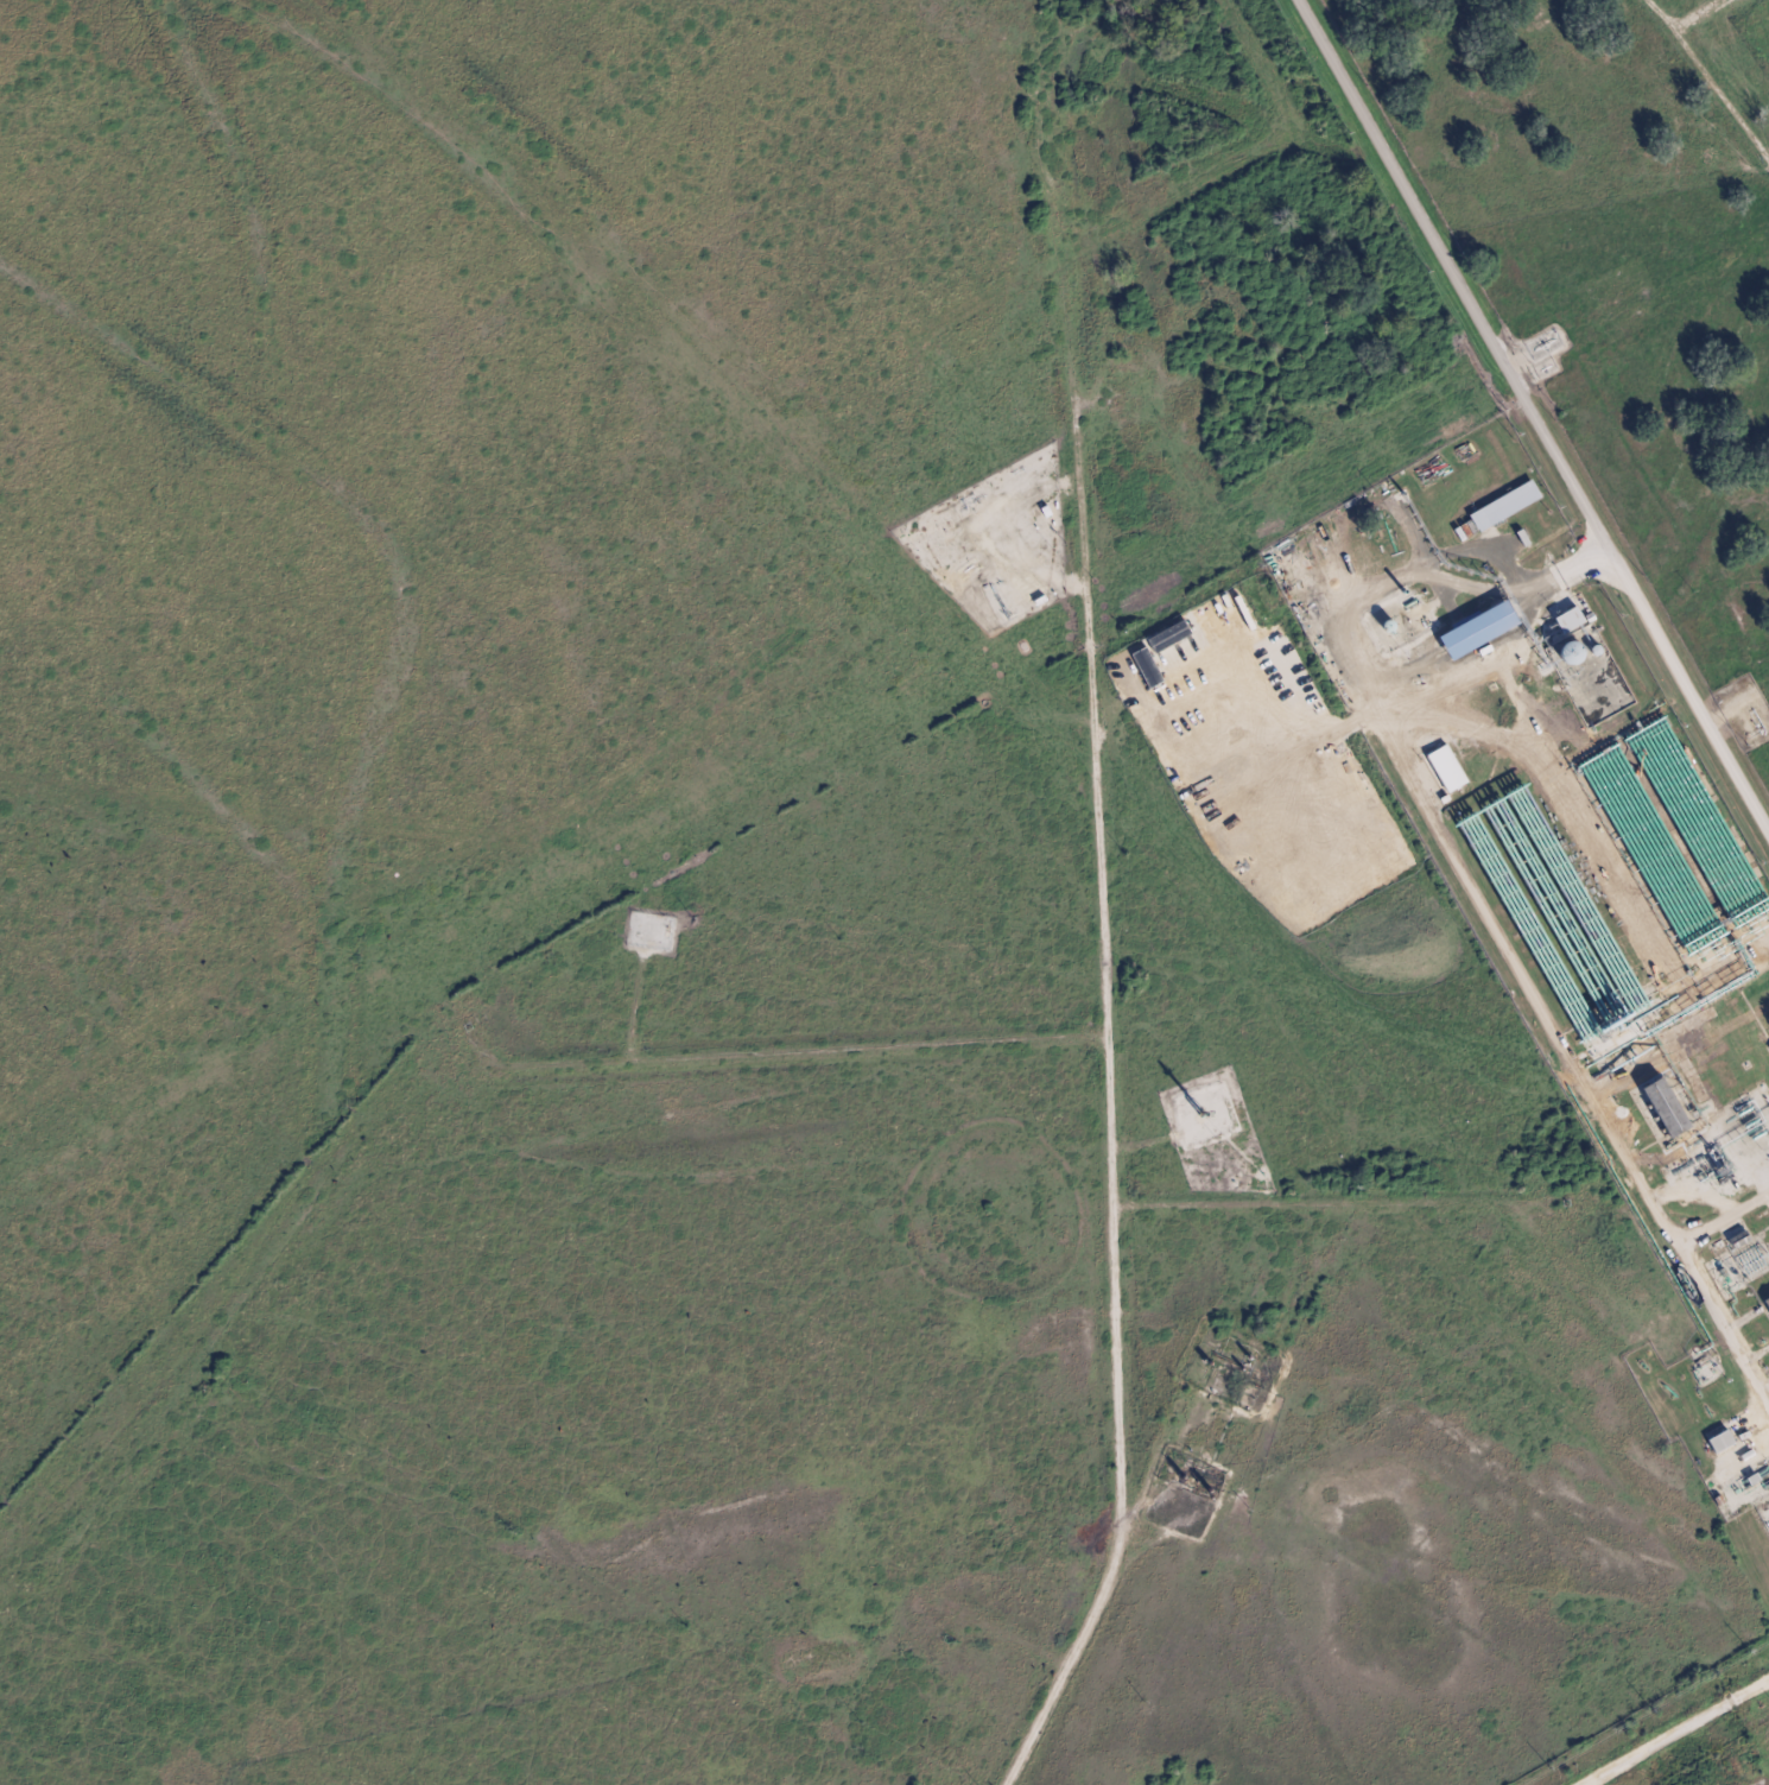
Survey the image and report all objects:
road: (1534, 412)
building: (1504, 506)
building: (1568, 620)
building: (1210, 629)
building: (1476, 629)
building: (1167, 637)
building: (1147, 667)
building: (1446, 768)
helipad: (1713, 910)
road: (1495, 922)
helipad: (1736, 949)
road: (780, 1055)
building: (1663, 1108)
road: (1112, 1119)
road: (1403, 1204)
road: (1725, 1221)
building: (1767, 1303)
building: (1719, 1442)
road: (1719, 1482)
road: (21, 1612)
road: (1678, 1733)

